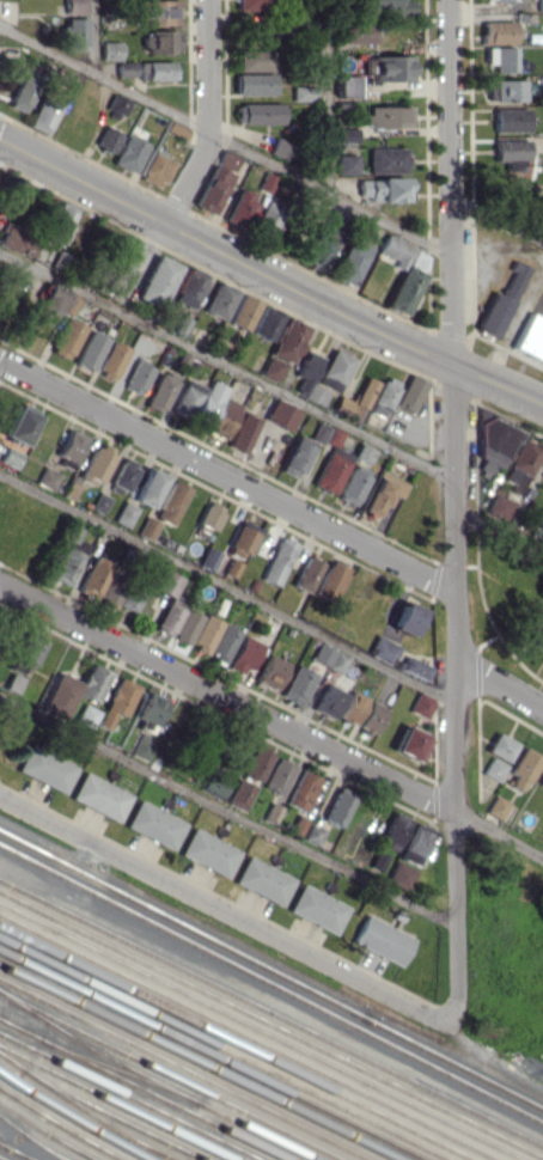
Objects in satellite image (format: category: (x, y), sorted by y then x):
building: (496, 0)
building: (252, 5)
building: (538, 5)
building: (386, 7)
building: (155, 11)
building: (495, 31)
building: (354, 32)
building: (73, 33)
road: (92, 37)
building: (159, 41)
building: (109, 50)
building: (499, 57)
building: (251, 60)
building: (389, 67)
building: (124, 68)
building: (154, 69)
building: (251, 84)
building: (343, 85)
building: (23, 87)
building: (505, 90)
building: (301, 92)
road: (324, 96)
building: (116, 104)
building: (256, 112)
building: (42, 114)
road: (206, 116)
building: (385, 116)
building: (508, 120)
building: (175, 129)
building: (346, 133)
building: (105, 139)
road: (224, 140)
building: (277, 147)
building: (508, 147)
building: (127, 153)
building: (385, 158)
building: (344, 163)
building: (511, 164)
building: (153, 169)
building: (380, 188)
building: (211, 189)
building: (239, 208)
road: (495, 216)
building: (266, 218)
building: (57, 222)
building: (17, 239)
building: (319, 245)
building: (121, 252)
building: (348, 261)
building: (402, 271)
road: (268, 275)
building: (155, 281)
building: (188, 287)
building: (218, 300)
building: (55, 303)
building: (499, 303)
building: (242, 312)
building: (264, 323)
building: (65, 337)
building: (530, 337)
building: (287, 340)
building: (89, 349)
building: (110, 360)
road: (226, 365)
building: (307, 365)
building: (270, 368)
building: (334, 370)
building: (136, 377)
building: (159, 391)
building: (409, 392)
building: (312, 393)
building: (382, 396)
building: (359, 397)
building: (185, 398)
building: (207, 402)
building: (279, 414)
building: (224, 417)
building: (19, 423)
building: (243, 428)
building: (494, 440)
building: (69, 445)
building: (306, 447)
building: (8, 457)
building: (96, 464)
building: (518, 464)
building: (329, 472)
building: (123, 474)
road: (226, 475)
building: (45, 477)
building: (350, 484)
building: (146, 487)
building: (382, 492)
building: (98, 502)
building: (170, 502)
building: (498, 507)
road: (452, 508)
building: (123, 517)
building: (208, 517)
road: (498, 536)
building: (239, 542)
building: (67, 557)
building: (206, 557)
building: (276, 561)
building: (230, 567)
building: (305, 573)
building: (92, 576)
building: (329, 581)
building: (165, 584)
road: (226, 586)
building: (121, 592)
building: (404, 617)
building: (177, 621)
building: (203, 633)
building: (535, 636)
building: (221, 643)
building: (25, 648)
building: (380, 648)
building: (242, 654)
building: (328, 657)
building: (542, 661)
building: (413, 667)
building: (269, 671)
building: (12, 682)
building: (295, 684)
road: (500, 684)
building: (73, 688)
road: (227, 697)
building: (116, 701)
building: (327, 701)
building: (420, 703)
building: (150, 708)
building: (360, 713)
building: (85, 715)
building: (410, 744)
building: (141, 745)
building: (499, 746)
building: (255, 763)
building: (44, 768)
building: (492, 768)
building: (520, 768)
building: (276, 775)
building: (541, 780)
building: (218, 787)
building: (301, 790)
building: (239, 794)
building: (98, 795)
building: (336, 808)
road: (226, 811)
building: (153, 824)
building: (395, 828)
building: (312, 834)
road: (499, 836)
building: (415, 843)
building: (207, 851)
building: (398, 875)
building: (262, 880)
road: (222, 908)
building: (316, 908)
building: (380, 940)
railway: (270, 970)
railway: (271, 983)
railway: (271, 1013)
railway: (271, 1025)
railway: (261, 1031)
railway: (248, 1038)
railway: (236, 1044)
railway: (224, 1050)
railway: (211, 1056)
railway: (197, 1063)
railway: (182, 1069)
railway: (169, 1076)
railway: (152, 1081)
railway: (141, 1091)
railway: (128, 1097)
railway: (112, 1104)
railway: (83, 1110)
railway: (103, 1111)
railway: (69, 1119)
railway: (59, 1125)
railway: (45, 1132)
railway: (31, 1140)
railway: (38, 1147)
railway: (14, 1152)
railway: (1, 1159)

